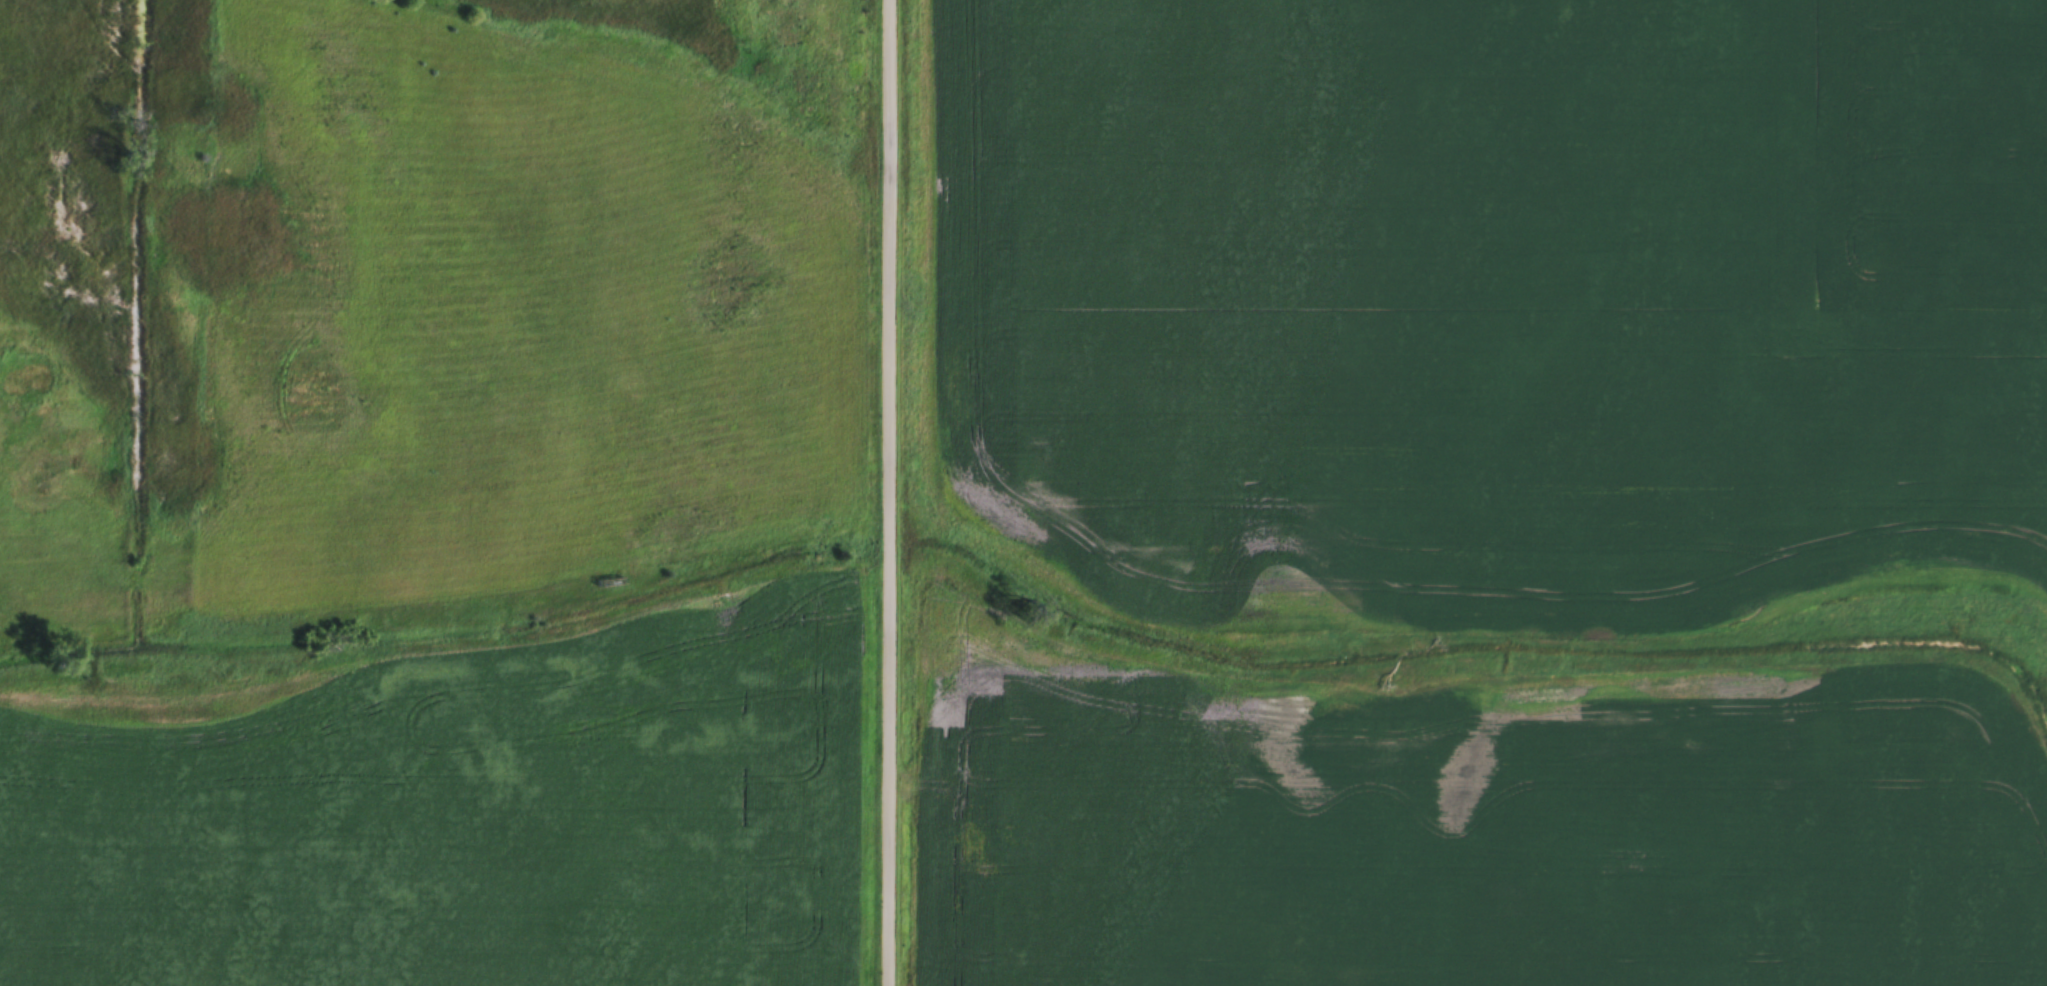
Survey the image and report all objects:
road: (891, 492)

